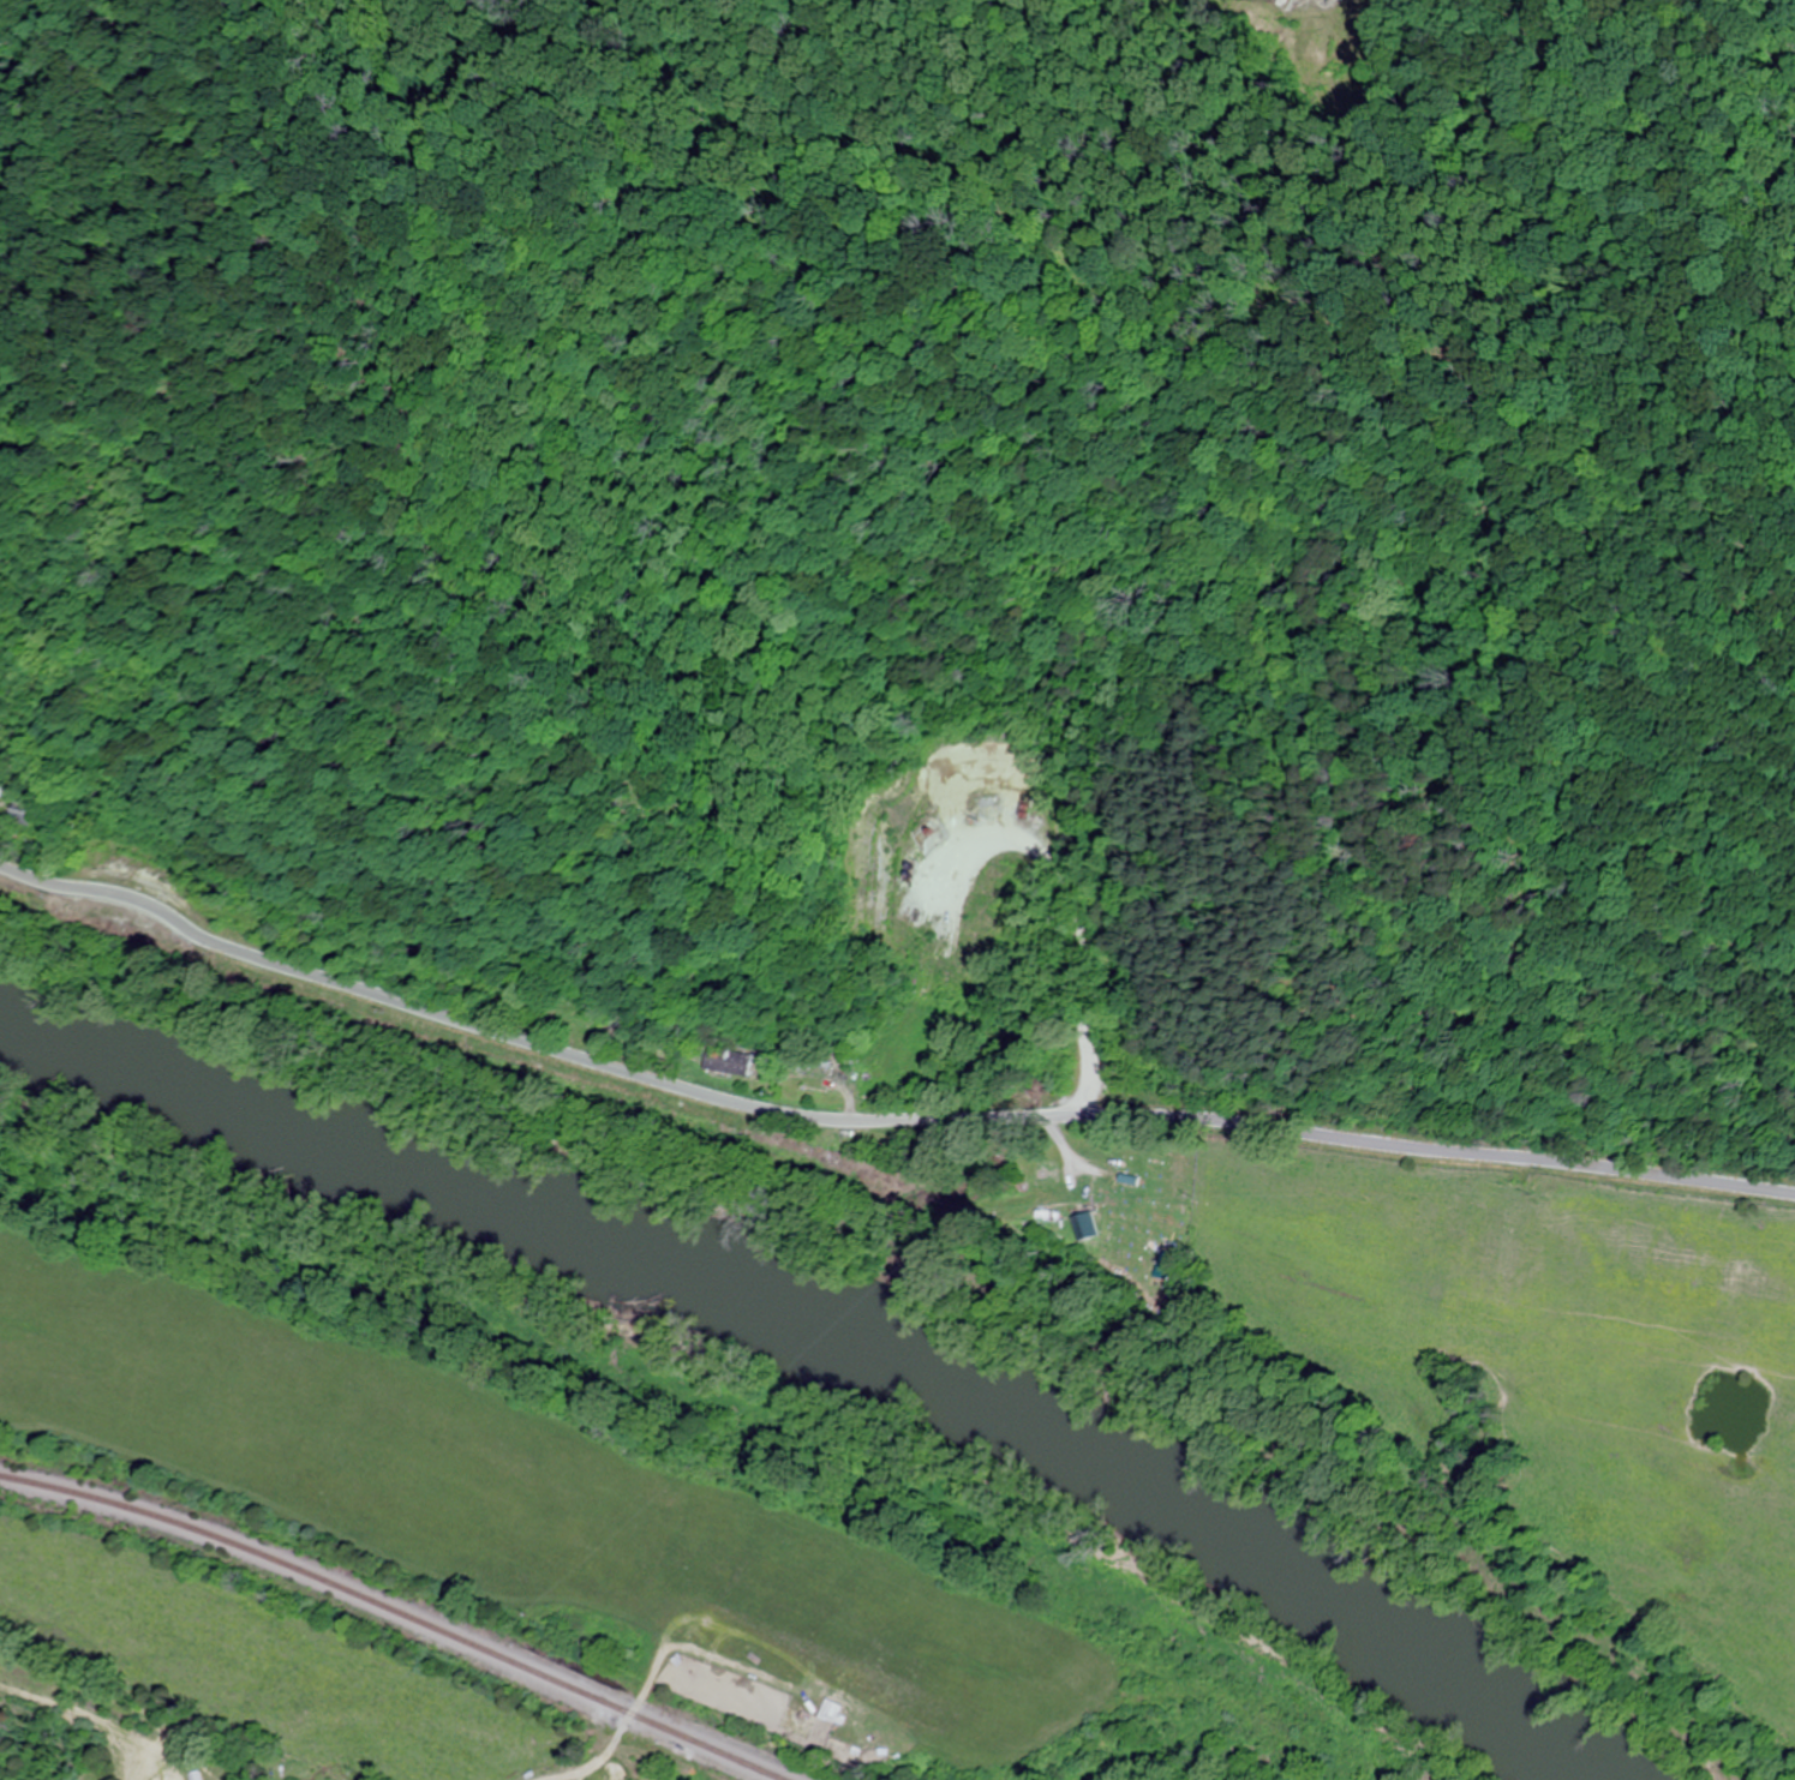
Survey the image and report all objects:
building: (728, 1061)
building: (808, 1075)
road: (880, 1120)
building: (1083, 1229)
river: (819, 1330)
railway: (395, 1611)

